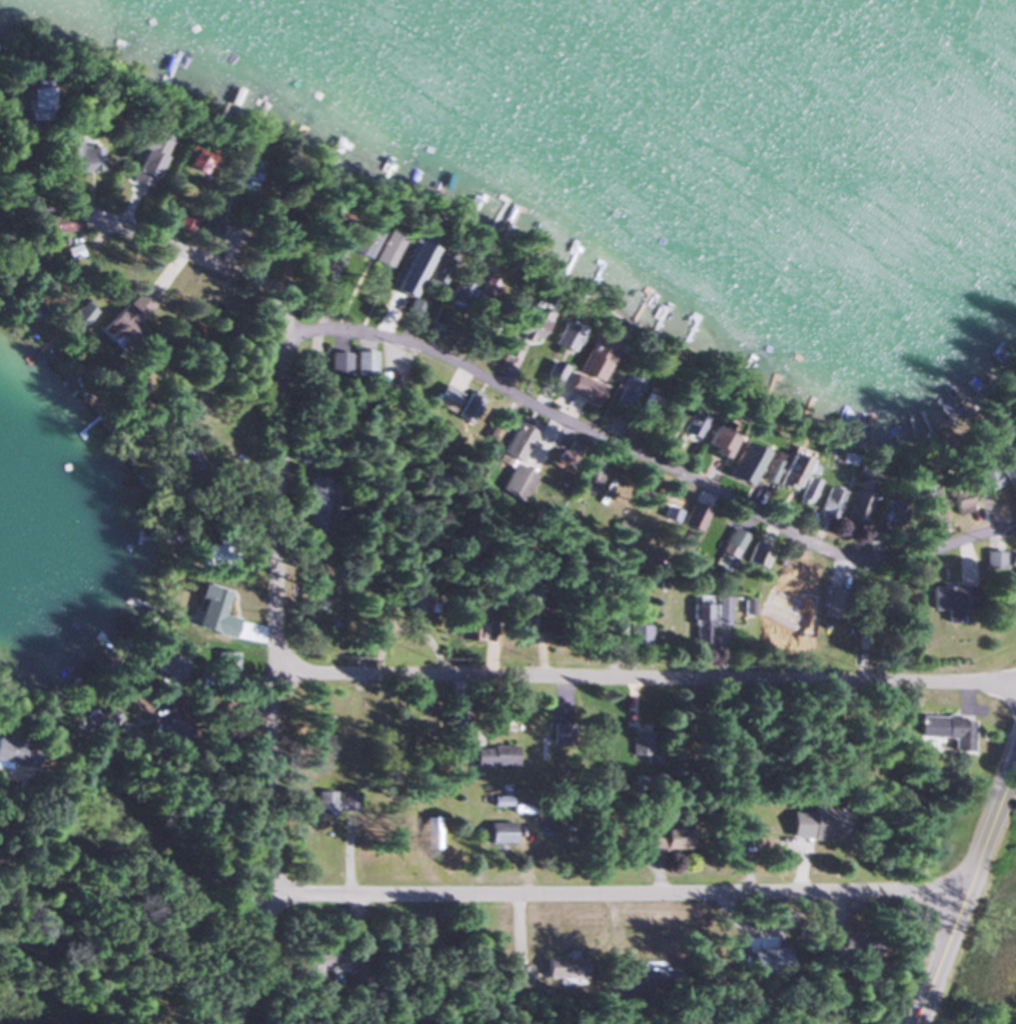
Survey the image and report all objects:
building: (35, 100)
building: (145, 148)
building: (81, 158)
building: (194, 159)
building: (136, 200)
building: (62, 223)
building: (182, 225)
building: (207, 230)
building: (382, 249)
building: (455, 289)
building: (482, 292)
building: (140, 301)
building: (530, 314)
building: (75, 316)
building: (436, 317)
building: (116, 328)
building: (560, 336)
building: (363, 363)
building: (549, 374)
building: (585, 374)
road: (494, 387)
building: (621, 401)
building: (454, 403)
building: (663, 424)
building: (686, 425)
building: (1013, 437)
building: (515, 439)
building: (710, 442)
building: (739, 464)
building: (592, 470)
building: (780, 471)
building: (982, 478)
building: (516, 480)
building: (804, 490)
building: (318, 497)
building: (827, 500)
building: (956, 500)
building: (924, 506)
building: (855, 508)
building: (887, 511)
building: (693, 518)
building: (732, 543)
building: (757, 555)
building: (992, 559)
building: (807, 571)
building: (1011, 571)
building: (302, 590)
building: (413, 591)
building: (952, 600)
building: (832, 603)
building: (721, 610)
building: (701, 621)
building: (470, 623)
building: (167, 664)
road: (642, 681)
road: (269, 683)
building: (94, 719)
building: (171, 727)
building: (951, 731)
building: (561, 734)
building: (534, 746)
building: (643, 746)
building: (15, 751)
building: (493, 755)
building: (336, 801)
building: (813, 824)
building: (499, 833)
building: (666, 839)
road: (964, 892)
road: (613, 895)
building: (853, 948)
building: (563, 968)

